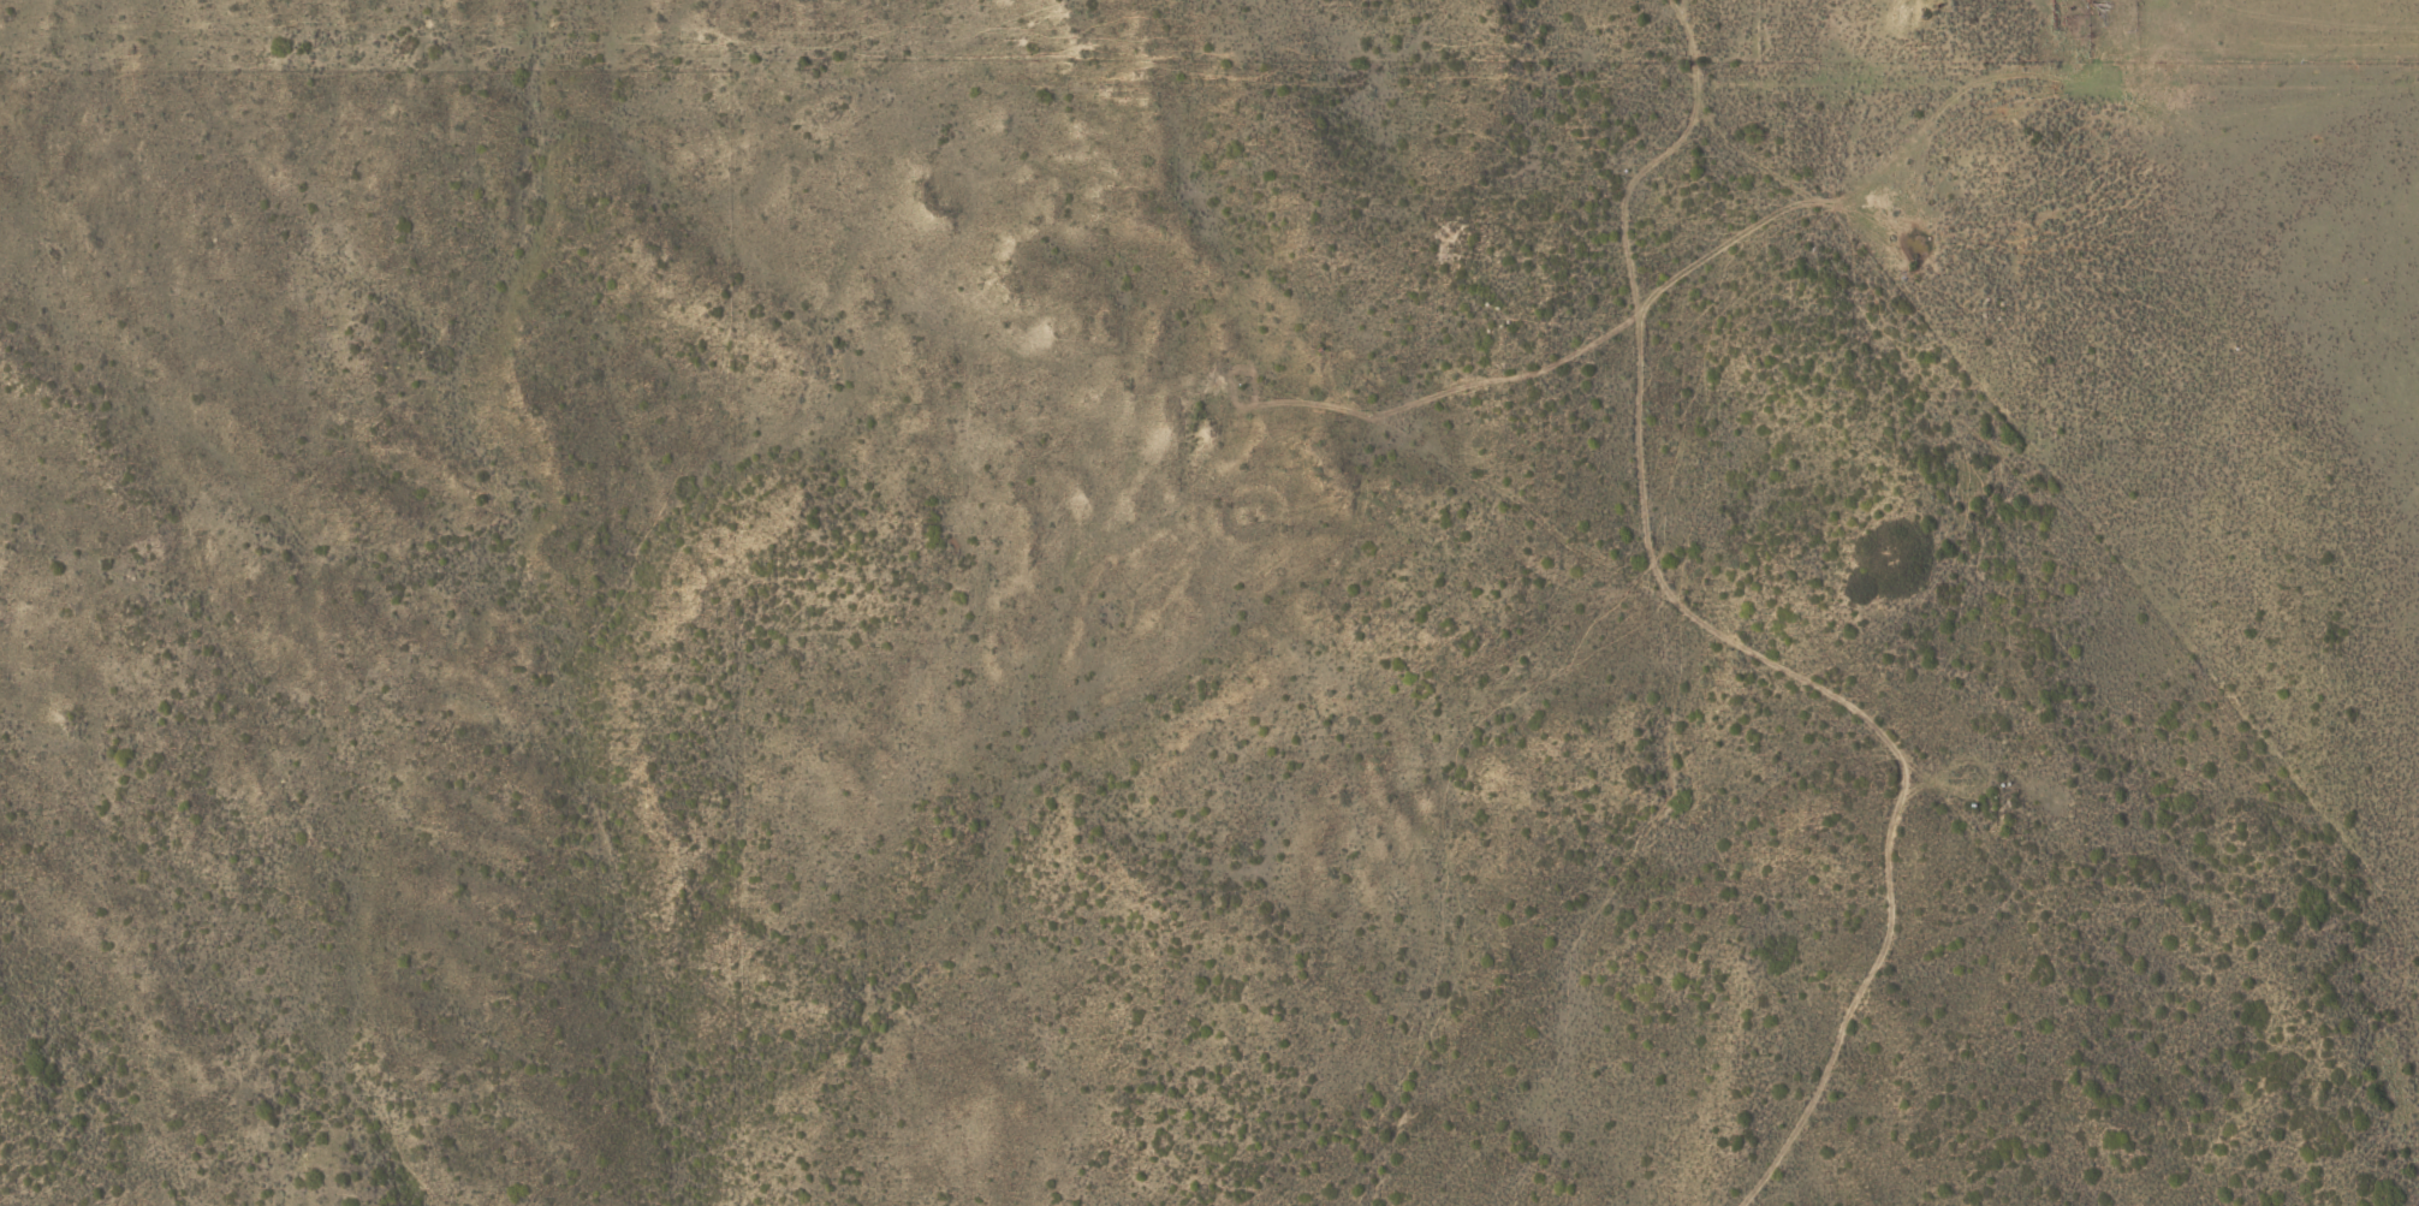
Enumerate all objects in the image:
road: (2371, 17)
road: (1718, 637)

